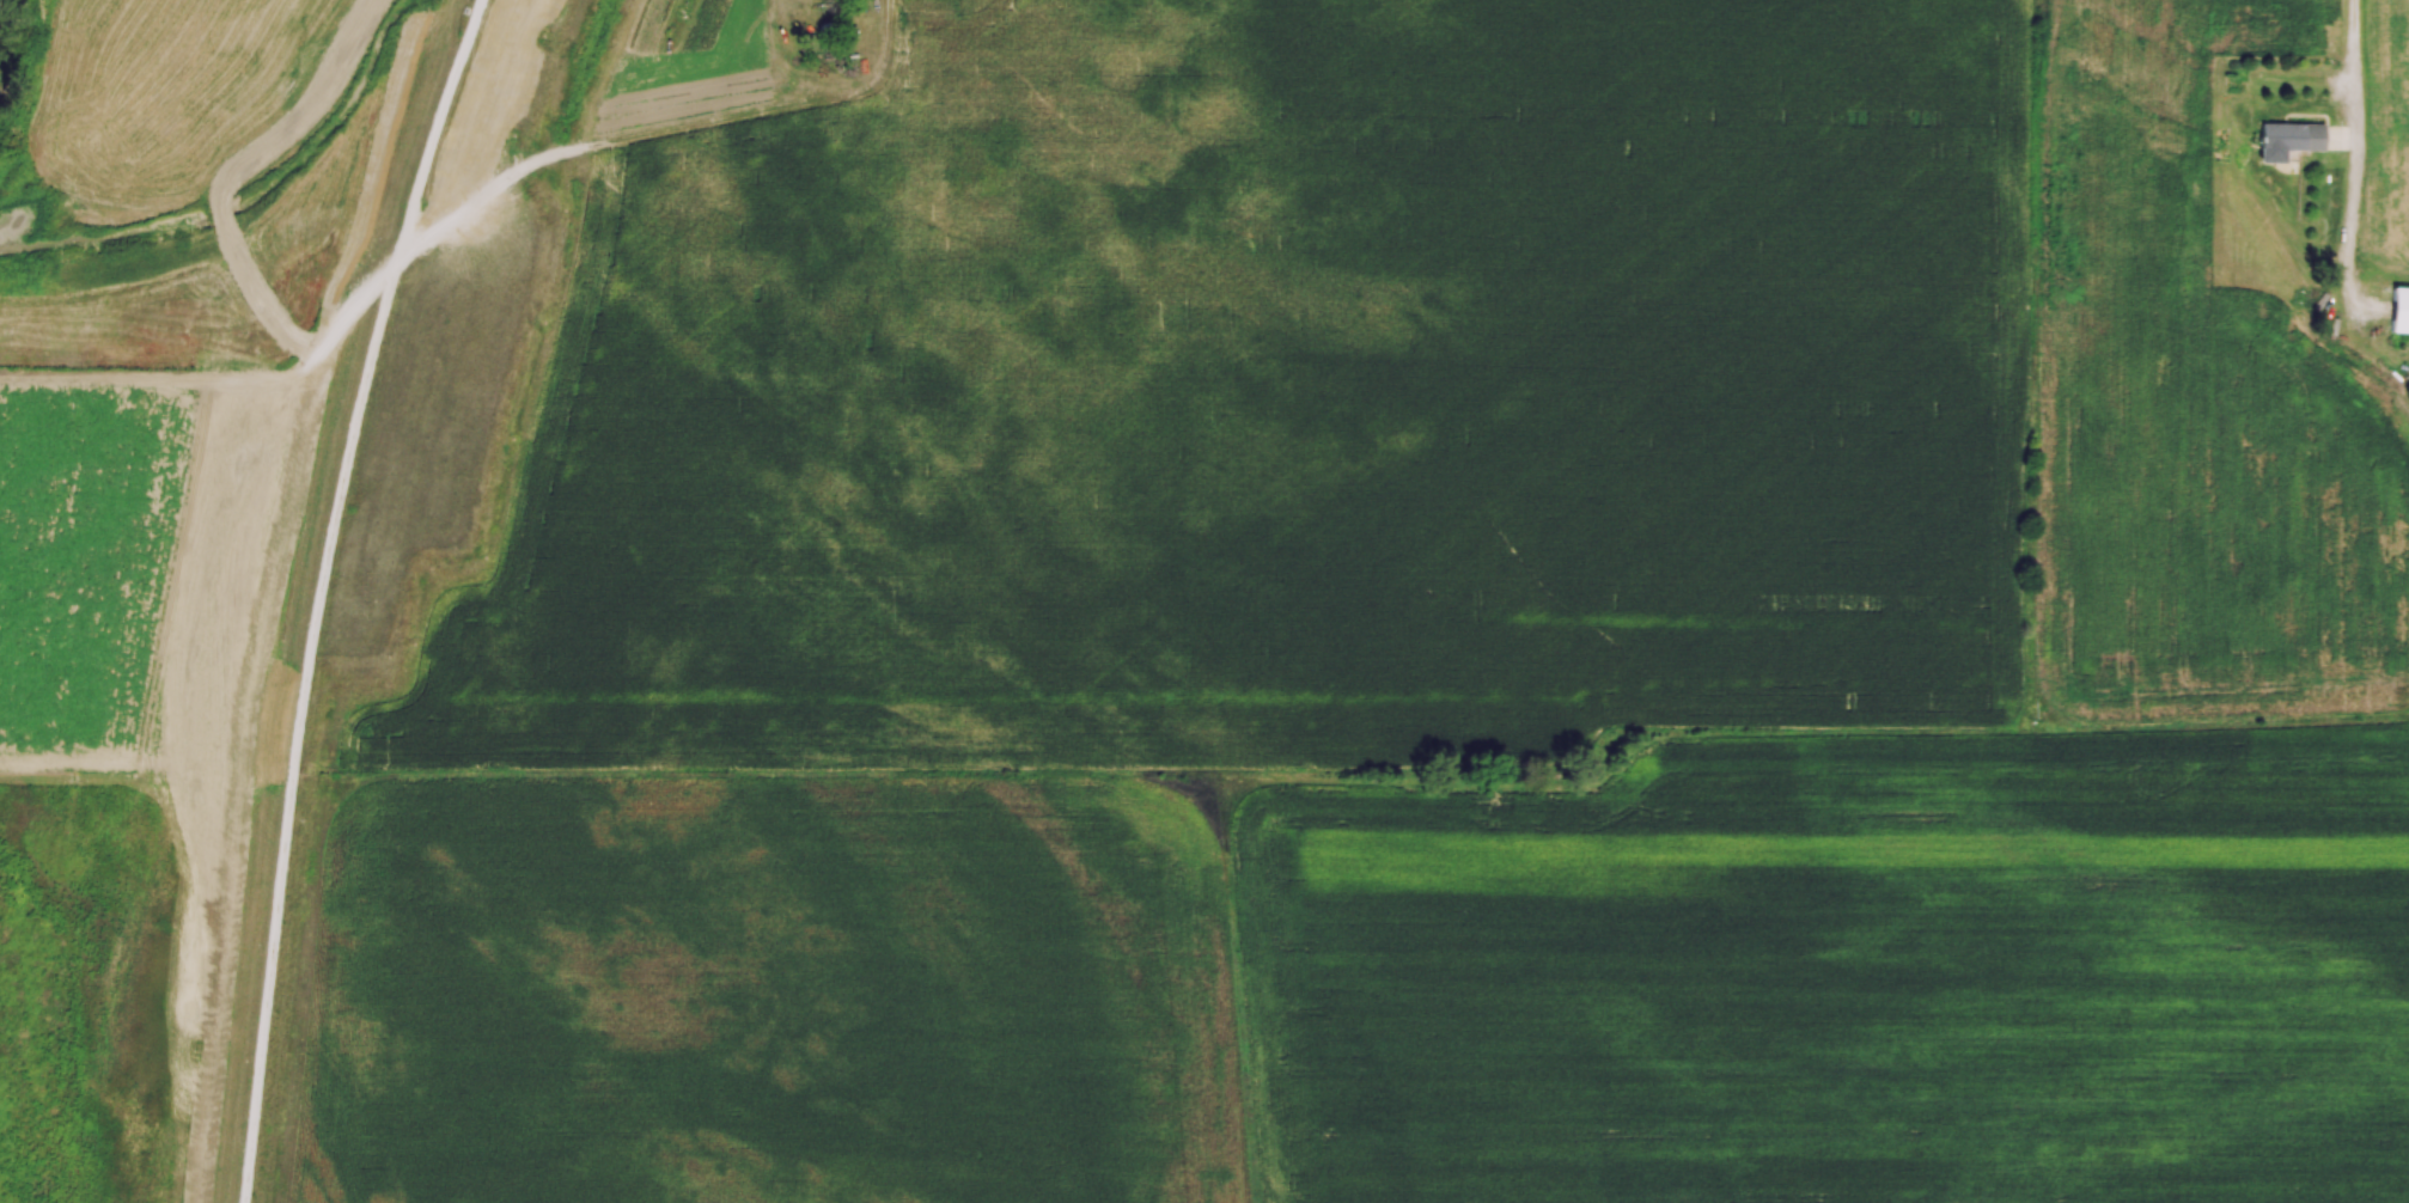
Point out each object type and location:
road: (2354, 153)
road: (305, 591)

